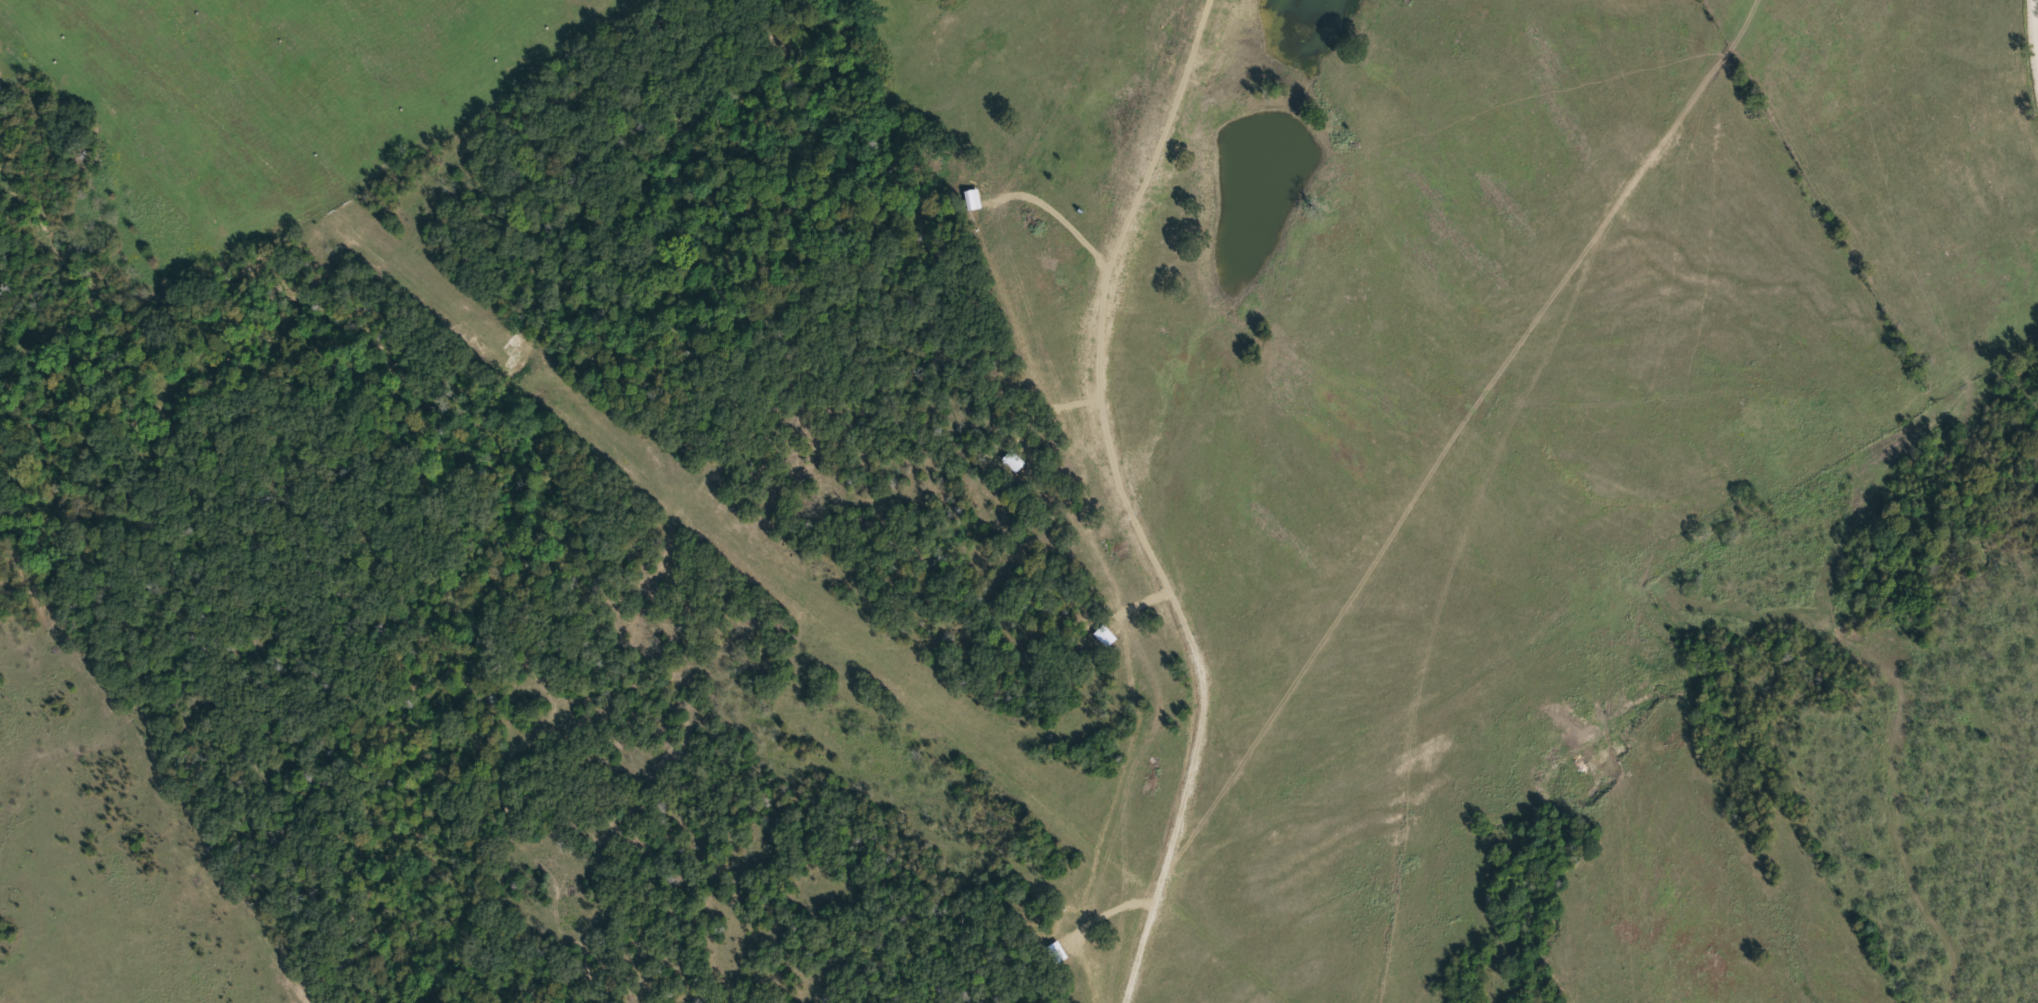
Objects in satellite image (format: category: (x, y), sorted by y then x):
road: (2035, 28)
road: (1881, 411)

